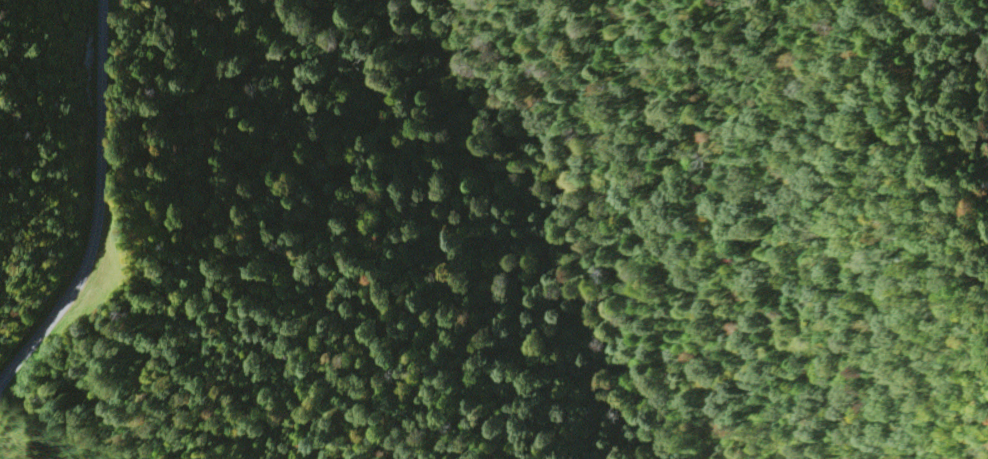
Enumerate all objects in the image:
road: (99, 207)

